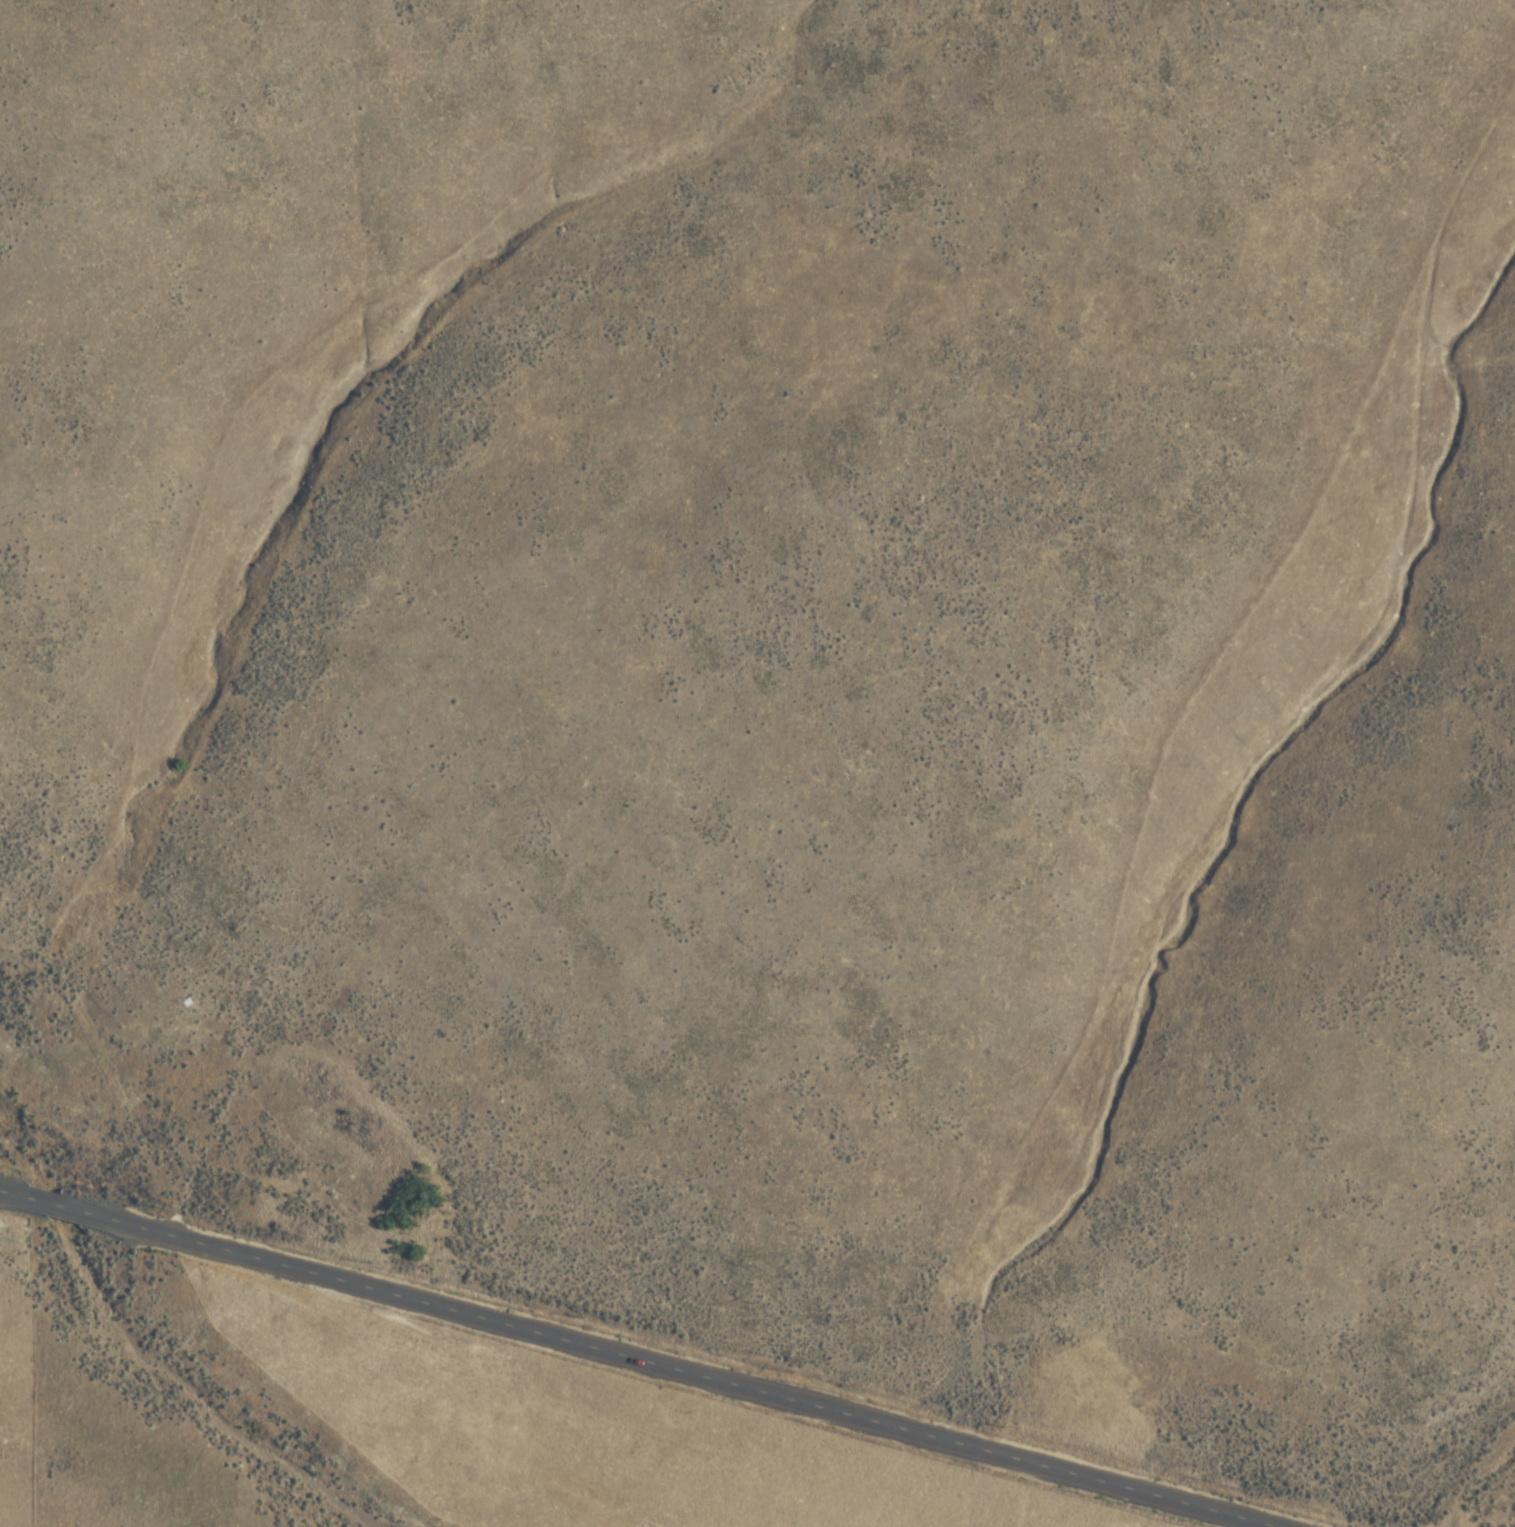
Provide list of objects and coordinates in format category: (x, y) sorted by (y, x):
road: (640, 1358)

